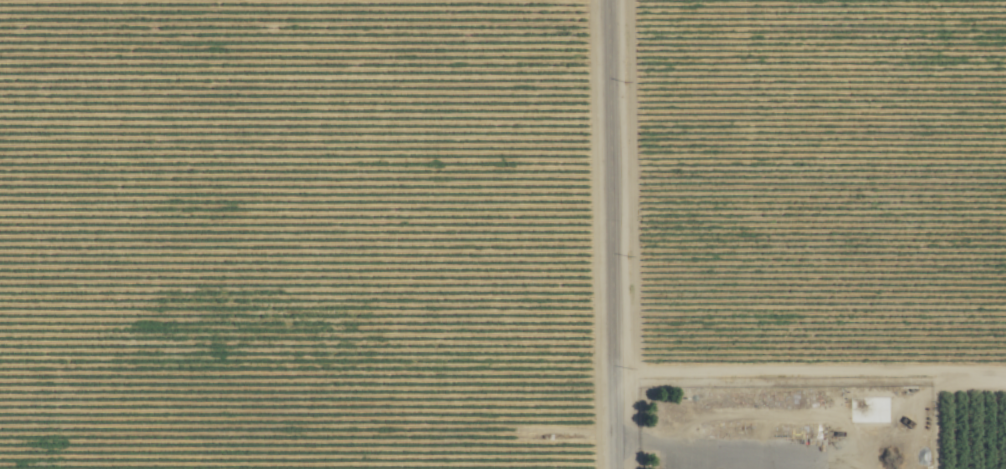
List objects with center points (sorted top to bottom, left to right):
crop: (503, 234)
road: (612, 234)
road: (810, 368)
building: (724, 406)
building: (870, 409)
road: (657, 444)

